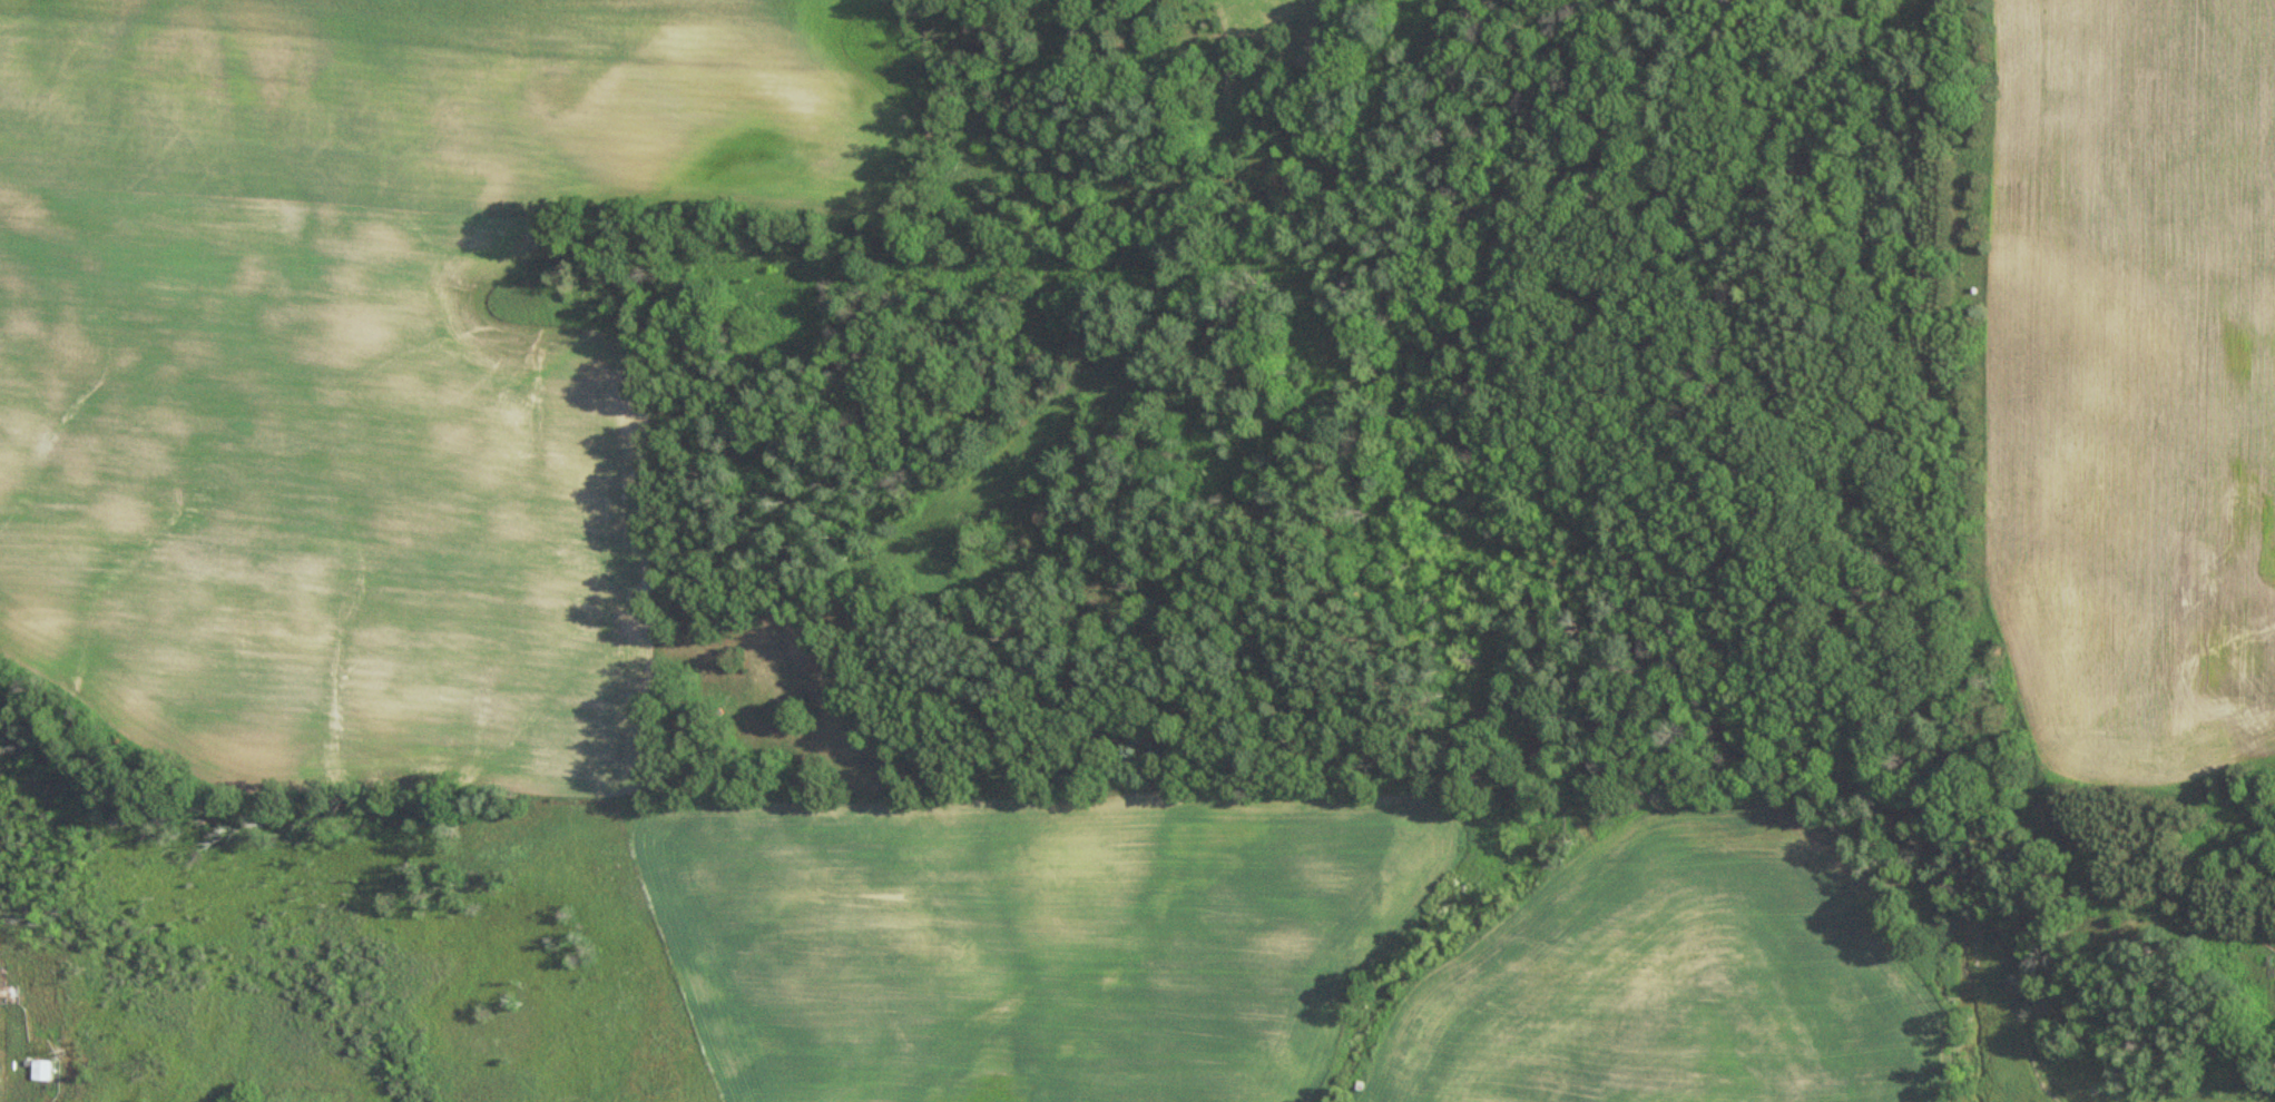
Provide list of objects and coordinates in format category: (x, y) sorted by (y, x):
building: (47, 1070)

